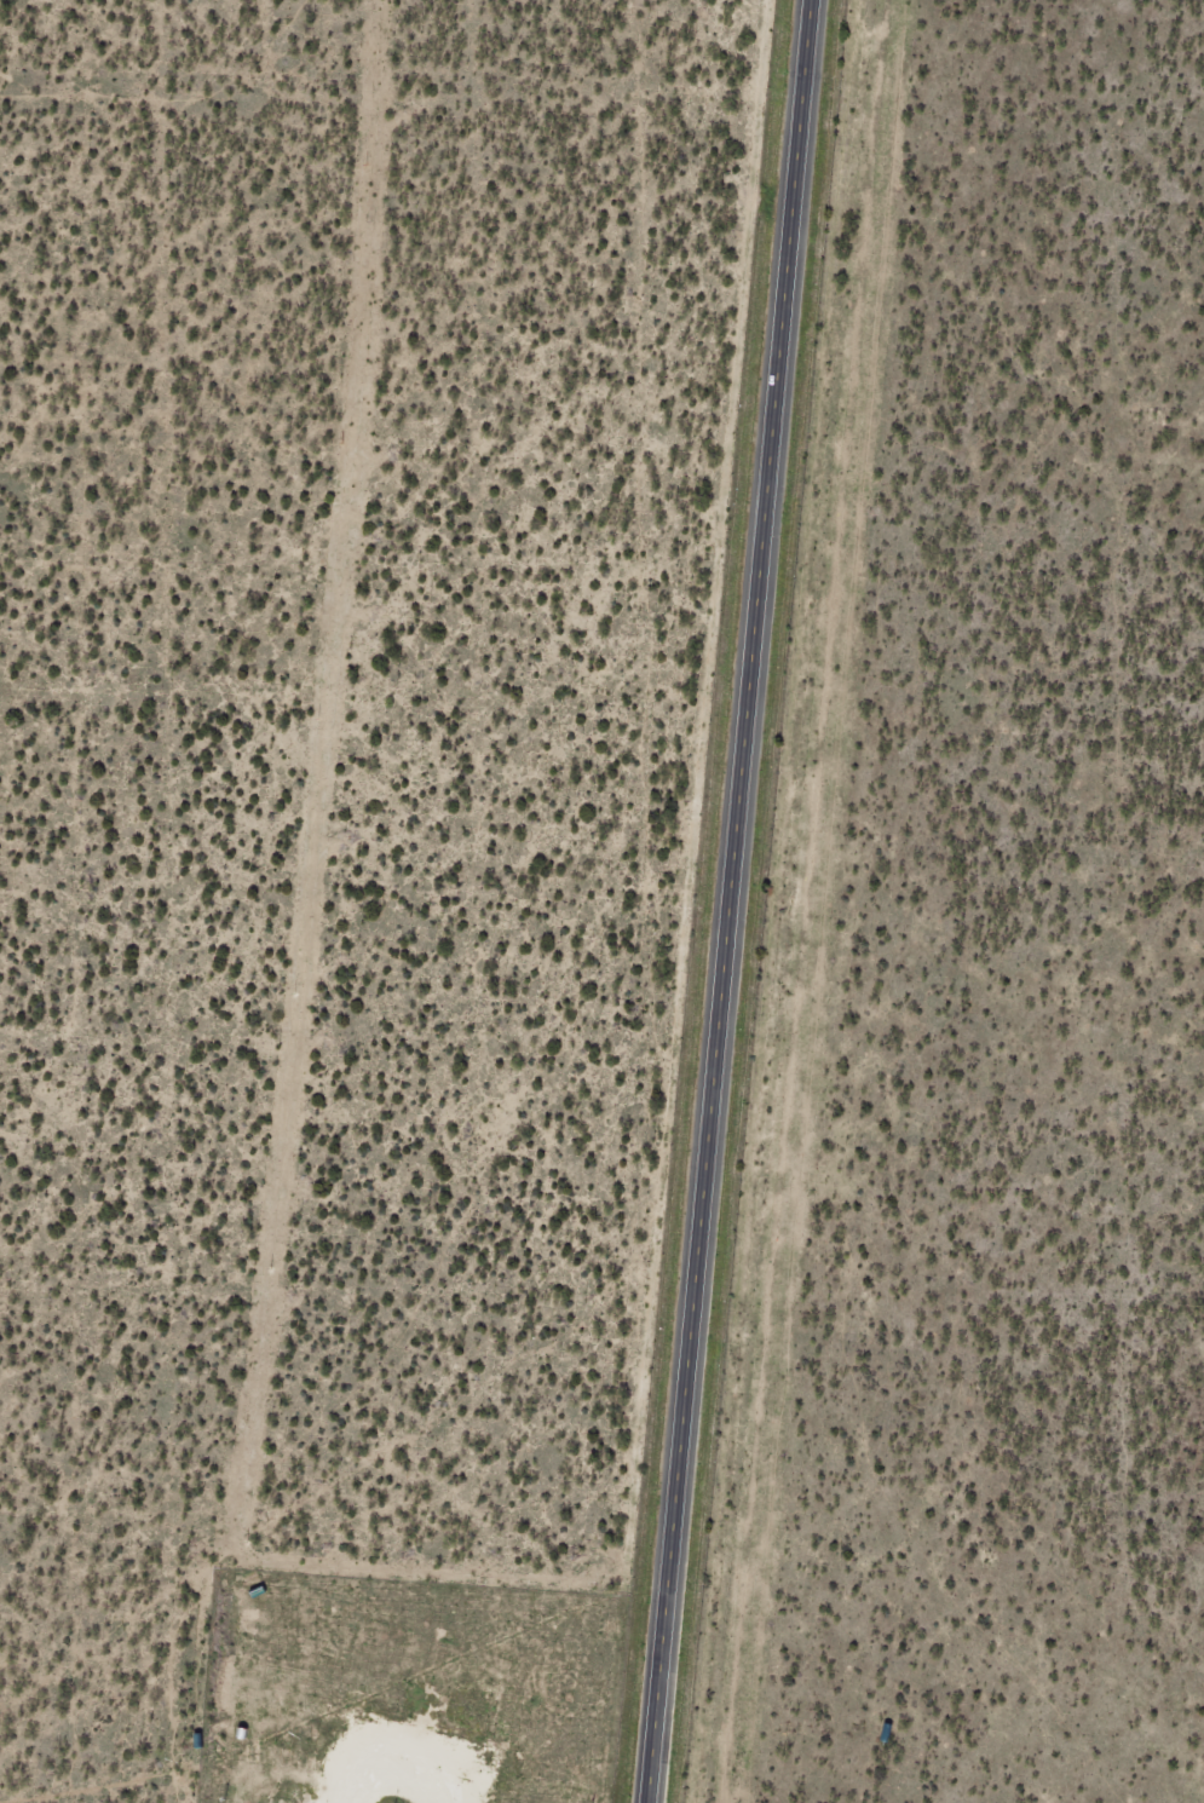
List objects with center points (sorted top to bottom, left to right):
road: (727, 900)

